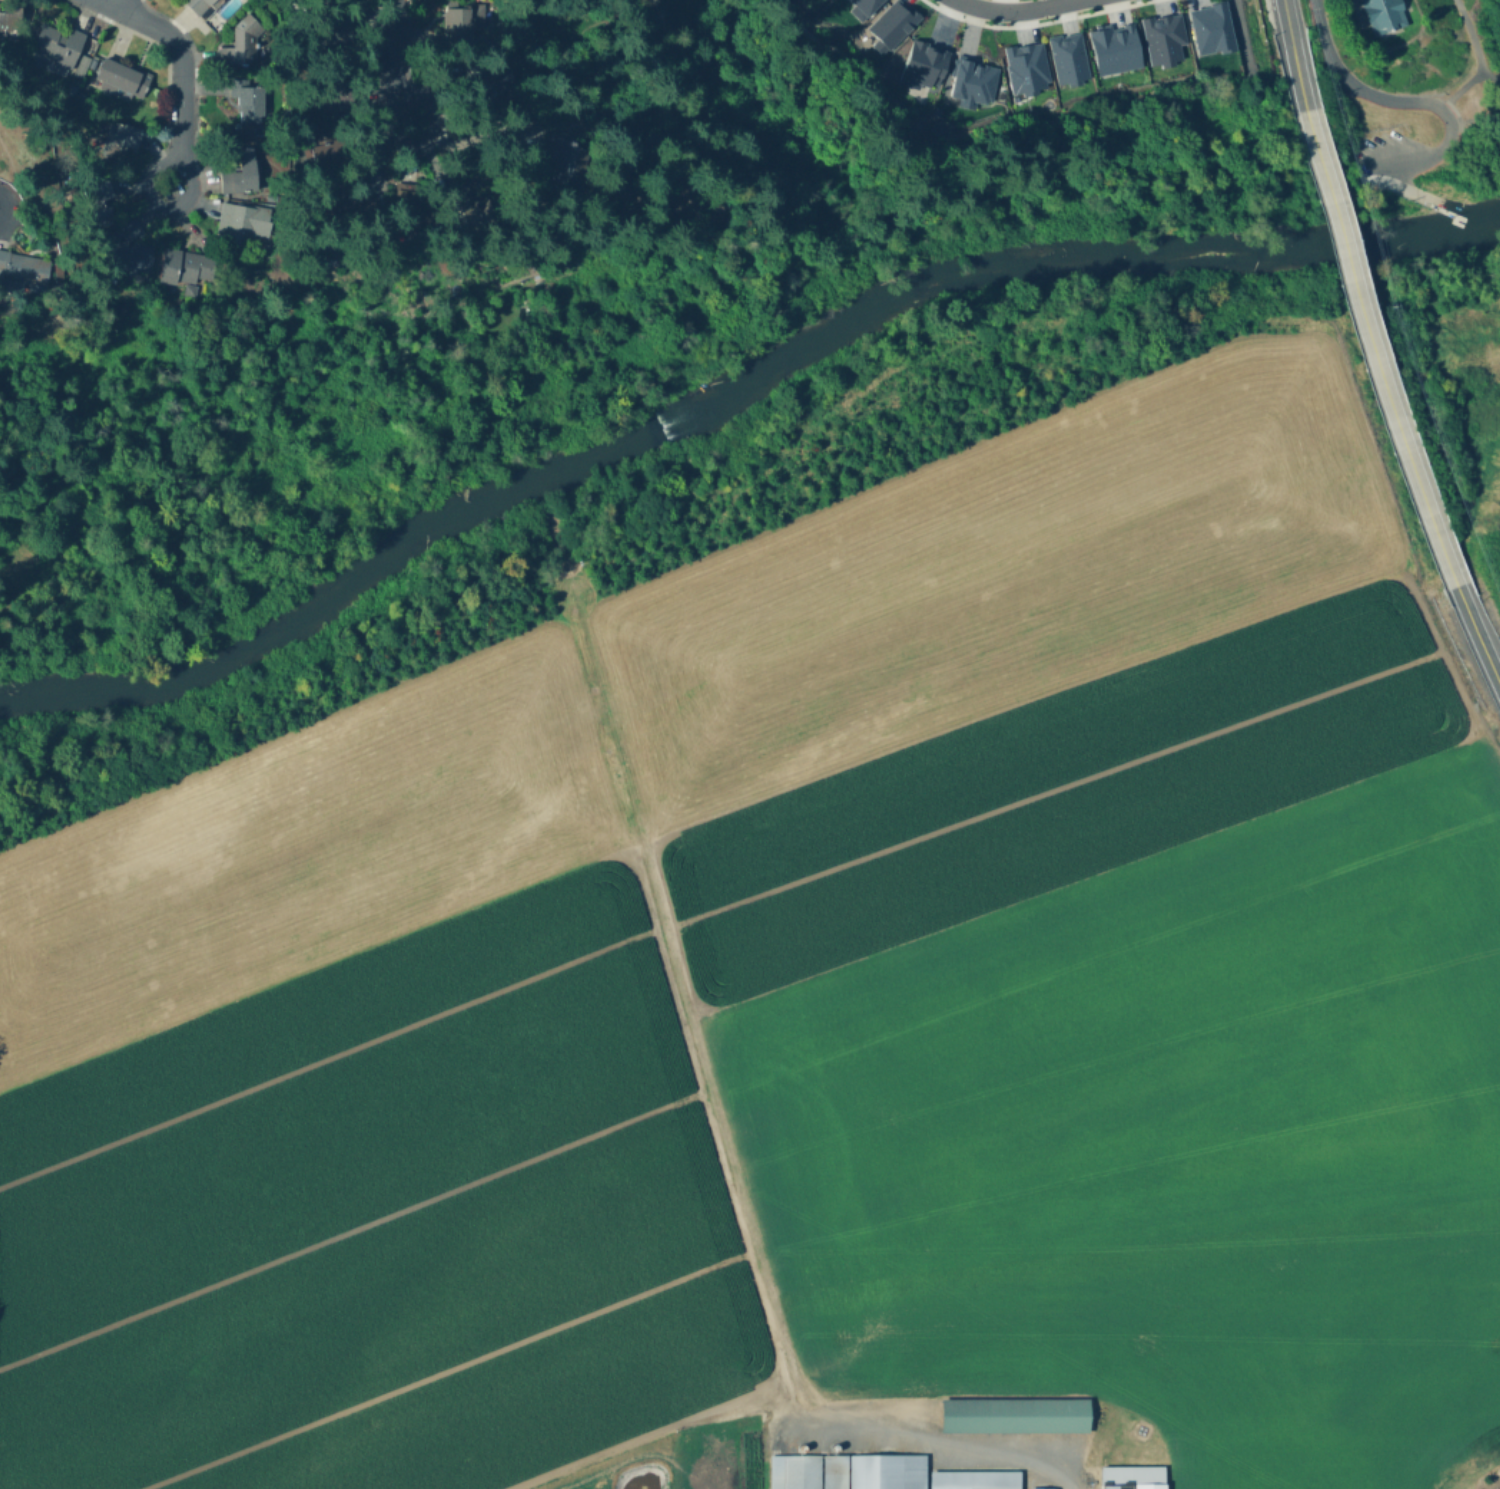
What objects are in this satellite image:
road: (1135, 1)
road: (111, 2)
road: (1403, 4)
building: (202, 6)
building: (859, 7)
road: (1015, 9)
road: (1356, 14)
building: (1380, 14)
building: (10, 22)
road: (1033, 22)
building: (460, 23)
building: (889, 24)
building: (1209, 27)
road: (1269, 27)
building: (336, 29)
road: (1471, 34)
building: (1160, 37)
building: (241, 41)
building: (58, 47)
building: (1110, 48)
road: (1294, 54)
building: (1065, 57)
building: (92, 63)
building: (920, 64)
building: (82, 65)
road: (392, 67)
building: (1024, 67)
road: (1490, 74)
road: (1499, 76)
building: (123, 78)
building: (968, 80)
building: (486, 85)
road: (1461, 88)
road: (181, 89)
building: (341, 89)
park: (1410, 97)
building: (246, 100)
road: (1412, 101)
road: (1453, 111)
road: (1479, 115)
road: (1019, 126)
building: (247, 133)
road: (462, 133)
building: (120, 139)
parking lot: (1388, 151)
building: (330, 161)
building: (562, 164)
building: (238, 178)
road: (1399, 186)
building: (271, 194)
building: (97, 202)
building: (468, 203)
building: (405, 212)
building: (241, 223)
building: (125, 249)
building: (184, 266)
building: (24, 268)
road: (1370, 351)
park: (1469, 367)
river: (729, 389)
road: (1477, 635)
crop: (1077, 826)
crop: (356, 1110)
road: (726, 1139)
crop: (1211, 1331)
building: (1016, 1415)
building: (803, 1449)
silo: (803, 1449)
building: (836, 1449)
silo: (836, 1449)
building: (886, 1471)
building: (834, 1472)
building: (795, 1473)
building: (1133, 1477)
building: (975, 1480)
road: (581, 1481)
building: (1043, 1488)

